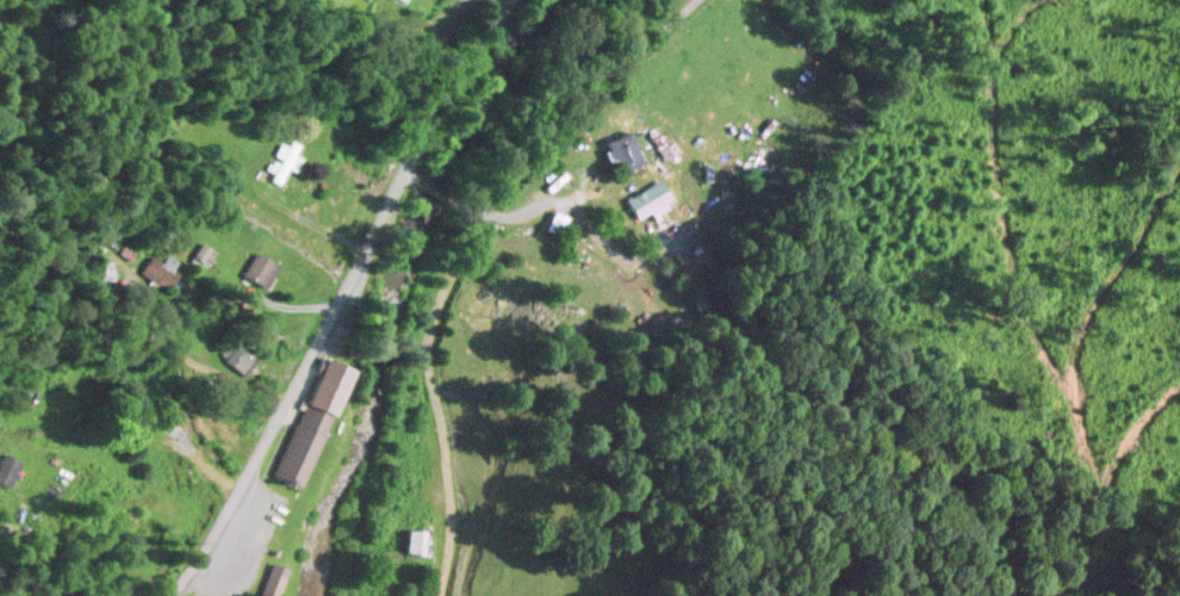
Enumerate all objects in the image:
building: (622, 149)
building: (284, 155)
building: (559, 174)
road: (440, 194)
building: (555, 221)
road: (482, 246)
building: (257, 268)
road: (298, 286)
building: (241, 356)
building: (309, 421)
building: (415, 539)
building: (271, 579)

